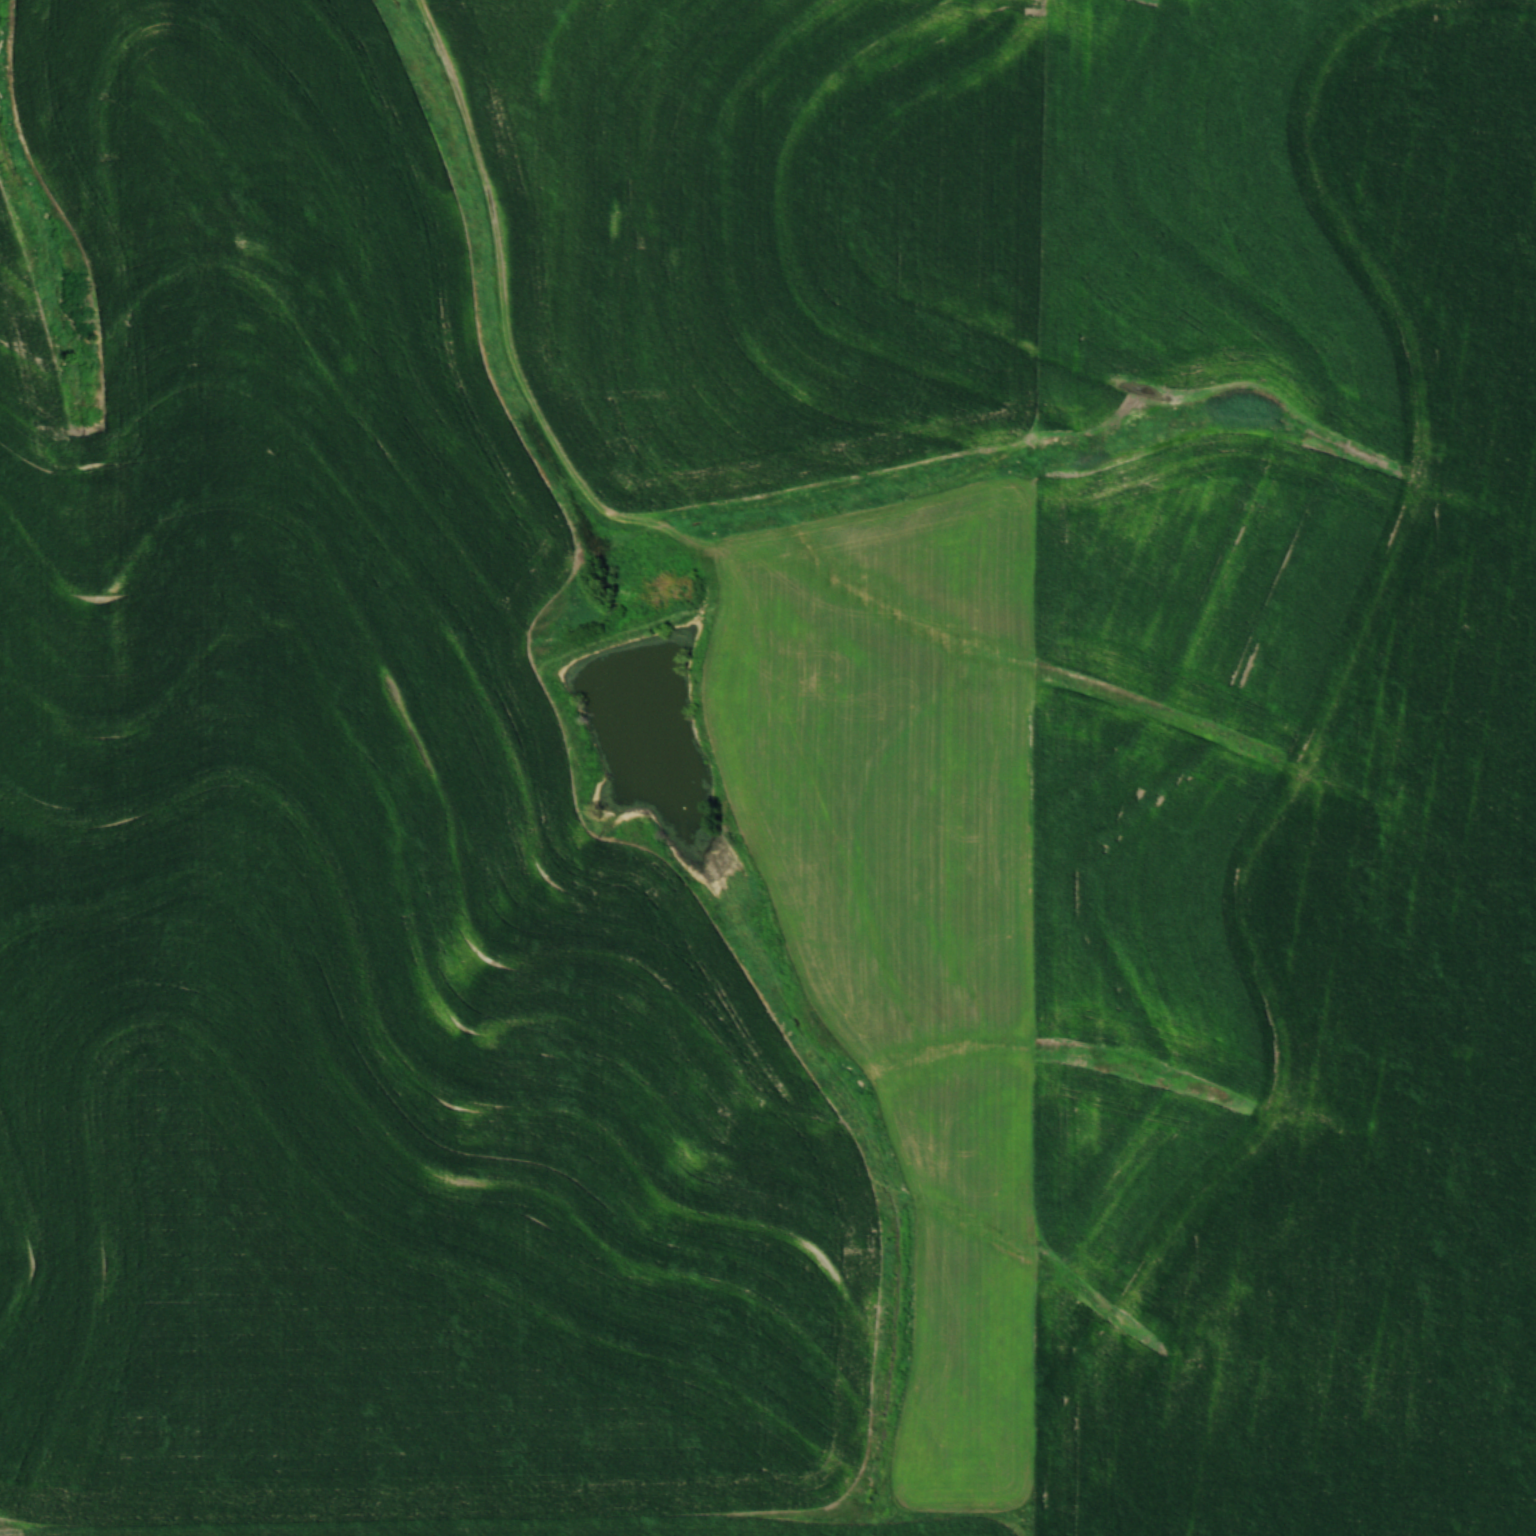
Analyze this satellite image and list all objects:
road: (181, 124)

